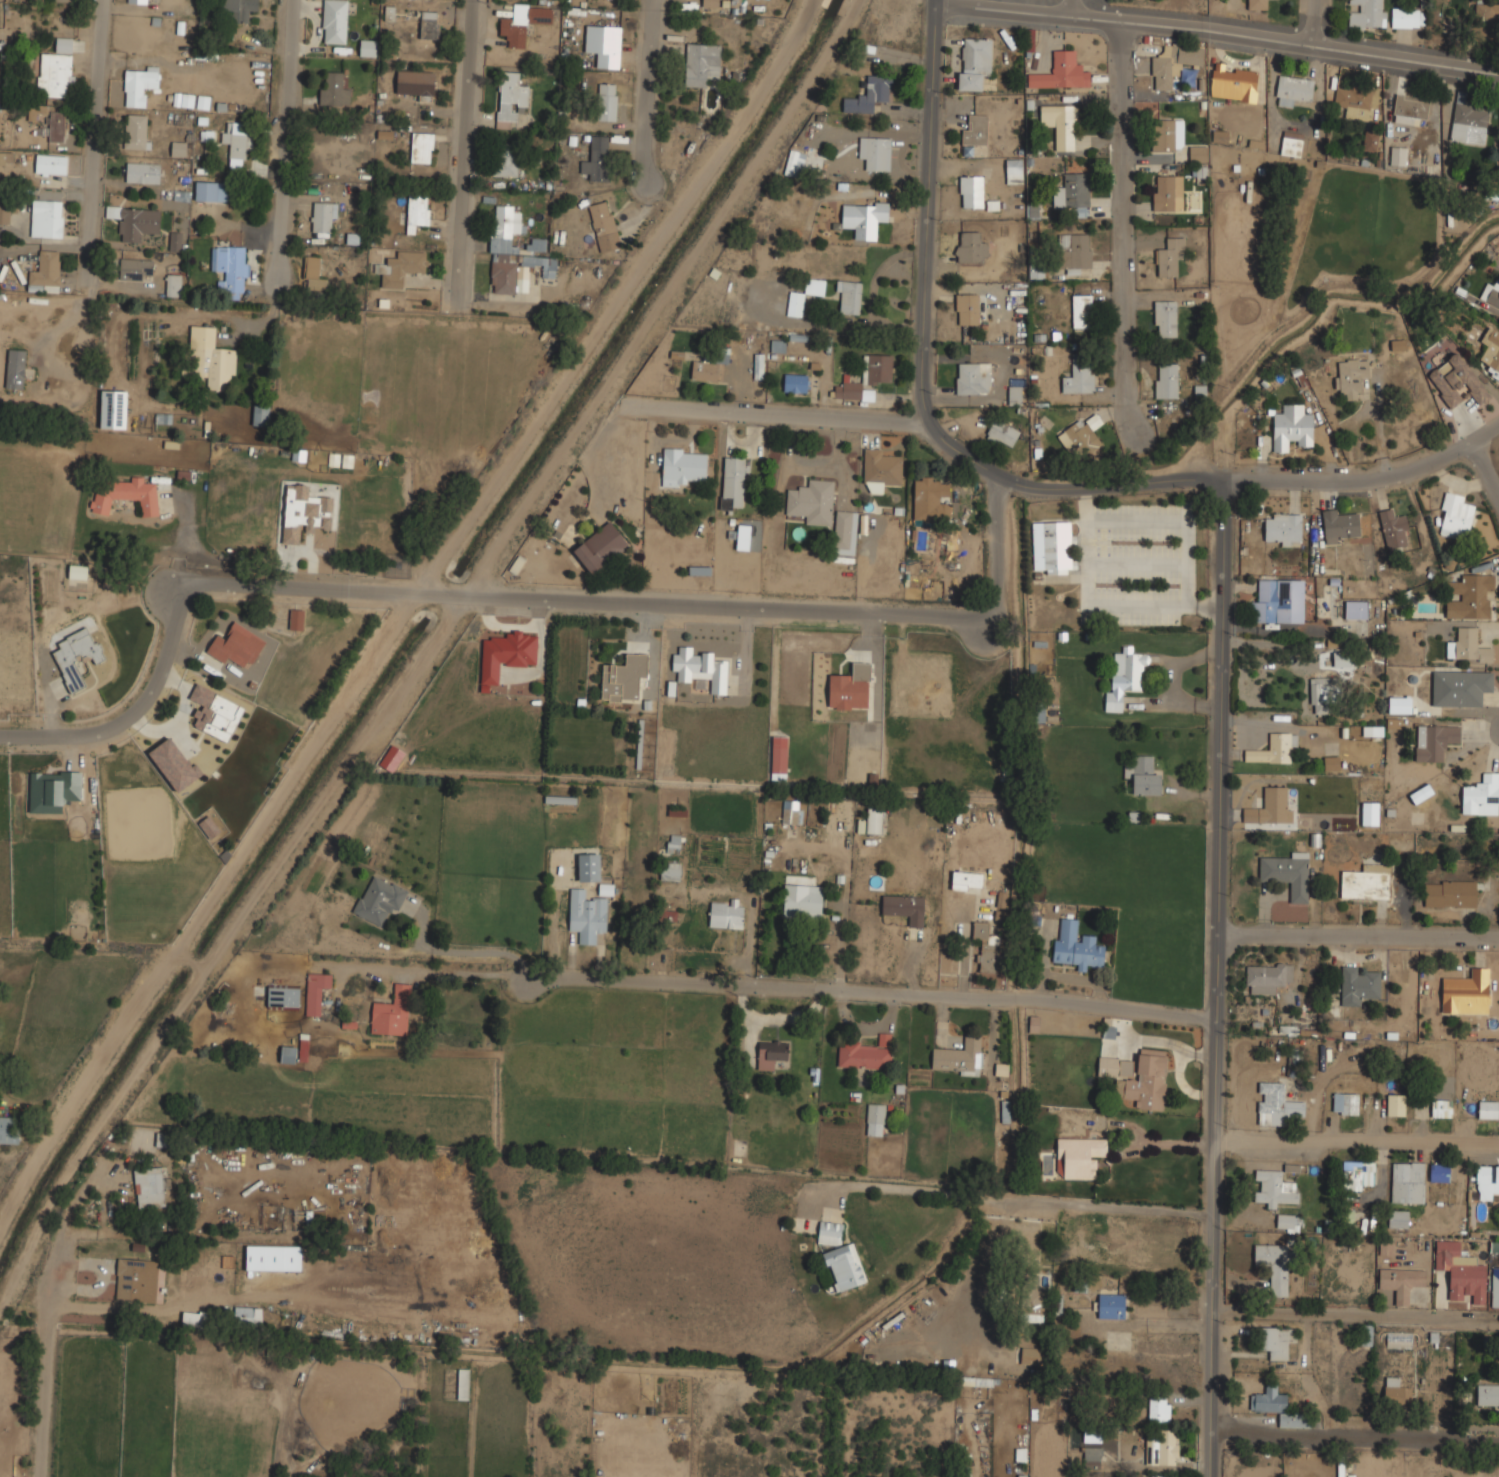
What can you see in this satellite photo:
building: (60, 0)
building: (138, 2)
building: (710, 3)
building: (1258, 4)
building: (240, 8)
road: (1074, 8)
building: (389, 13)
building: (1368, 13)
building: (1408, 18)
building: (1486, 20)
building: (334, 21)
building: (524, 21)
road: (1315, 21)
building: (429, 24)
road: (1217, 32)
building: (604, 44)
building: (367, 48)
building: (975, 62)
building: (1174, 62)
building: (702, 64)
building: (56, 69)
building: (1061, 72)
building: (1235, 82)
building: (140, 84)
building: (417, 84)
building: (334, 88)
road: (651, 89)
building: (1293, 89)
building: (869, 95)
building: (511, 98)
building: (184, 100)
building: (608, 101)
building: (1355, 102)
building: (1412, 106)
building: (36, 111)
road: (95, 121)
building: (1470, 123)
building: (1061, 125)
building: (56, 126)
building: (136, 131)
building: (975, 133)
building: (1166, 134)
building: (1217, 138)
building: (237, 141)
road: (285, 141)
building: (1370, 141)
road: (462, 143)
building: (1292, 144)
building: (422, 147)
building: (180, 150)
building: (876, 152)
building: (1199, 152)
building: (1398, 156)
building: (597, 159)
building: (506, 160)
building: (795, 163)
building: (52, 165)
building: (1015, 169)
building: (144, 172)
building: (211, 190)
building: (972, 191)
building: (1074, 192)
building: (1166, 192)
road: (1121, 202)
building: (7, 211)
building: (416, 213)
building: (47, 218)
building: (864, 218)
building: (322, 219)
building: (135, 221)
building: (605, 226)
building: (354, 235)
building: (176, 241)
building: (537, 244)
building: (971, 246)
building: (1074, 250)
building: (511, 252)
building: (1169, 256)
building: (401, 267)
building: (230, 268)
building: (47, 269)
building: (135, 269)
building: (1037, 273)
building: (314, 274)
building: (175, 285)
building: (1491, 294)
building: (850, 296)
building: (795, 305)
building: (968, 309)
building: (1082, 311)
building: (1166, 317)
building: (1398, 345)
building: (1491, 348)
building: (211, 359)
building: (758, 366)
building: (708, 367)
building: (16, 369)
road: (921, 373)
building: (1351, 375)
building: (866, 378)
building: (973, 378)
building: (1079, 378)
building: (1167, 380)
building: (1456, 381)
building: (795, 383)
building: (1015, 395)
road: (1132, 408)
building: (112, 409)
road: (771, 413)
building: (260, 415)
building: (1292, 428)
building: (1003, 433)
building: (1079, 437)
building: (685, 466)
building: (881, 468)
road: (1482, 476)
road: (1368, 479)
building: (733, 482)
building: (126, 494)
building: (932, 500)
building: (812, 501)
building: (304, 511)
building: (1455, 516)
building: (1341, 527)
building: (1283, 529)
building: (843, 530)
building: (1394, 530)
building: (742, 537)
building: (866, 540)
building: (1053, 547)
building: (601, 548)
building: (1470, 596)
road: (513, 597)
building: (1279, 601)
building: (1357, 609)
building: (296, 619)
building: (1468, 645)
building: (236, 646)
building: (507, 653)
building: (76, 656)
building: (701, 669)
building: (1129, 670)
building: (623, 678)
building: (850, 687)
building: (1461, 687)
building: (1321, 694)
building: (1114, 701)
building: (1400, 705)
building: (215, 713)
building: (1394, 723)
building: (1372, 731)
building: (1435, 740)
building: (1275, 748)
building: (779, 757)
building: (1331, 763)
building: (174, 764)
building: (1144, 775)
building: (53, 791)
building: (1420, 793)
building: (1481, 793)
building: (1271, 807)
building: (677, 812)
building: (1370, 812)
building: (791, 816)
building: (874, 820)
building: (208, 827)
building: (674, 843)
building: (588, 867)
building: (671, 871)
building: (1288, 873)
building: (966, 880)
building: (1366, 883)
building: (1451, 893)
building: (379, 898)
building: (1001, 899)
building: (802, 900)
building: (905, 907)
building: (726, 914)
building: (587, 915)
building: (981, 930)
road: (1359, 930)
building: (1076, 946)
road: (366, 967)
building: (1267, 977)
road: (1219, 978)
building: (1358, 984)
road: (816, 987)
building: (316, 991)
building: (1467, 993)
building: (284, 996)
building: (389, 1018)
building: (303, 1049)
building: (866, 1053)
building: (288, 1054)
building: (771, 1054)
building: (959, 1056)
building: (813, 1073)
building: (1140, 1078)
building: (1346, 1103)
building: (1276, 1104)
building: (1397, 1104)
building: (1442, 1108)
building: (1489, 1109)
building: (876, 1119)
building: (9, 1130)
road: (1358, 1145)
building: (1079, 1157)
building: (1440, 1172)
building: (1358, 1175)
building: (1408, 1182)
building: (1488, 1182)
building: (150, 1187)
road: (895, 1187)
building: (1276, 1189)
road: (1098, 1204)
building: (1398, 1219)
building: (1288, 1222)
building: (829, 1233)
building: (1386, 1247)
building: (1447, 1248)
building: (1274, 1266)
building: (844, 1267)
building: (133, 1279)
building: (1401, 1281)
building: (1468, 1282)
building: (1496, 1282)
building: (1111, 1305)
road: (1357, 1314)
building: (249, 1316)
building: (1033, 1318)
building: (194, 1321)
road: (1152, 1324)
building: (1398, 1339)
building: (1274, 1341)
building: (1031, 1356)
road: (47, 1373)
building: (464, 1384)
building: (1397, 1391)
building: (1488, 1394)
building: (1277, 1407)
building: (1159, 1410)
road: (1356, 1438)
building: (1163, 1447)
building: (1093, 1454)
building: (1166, 1476)

